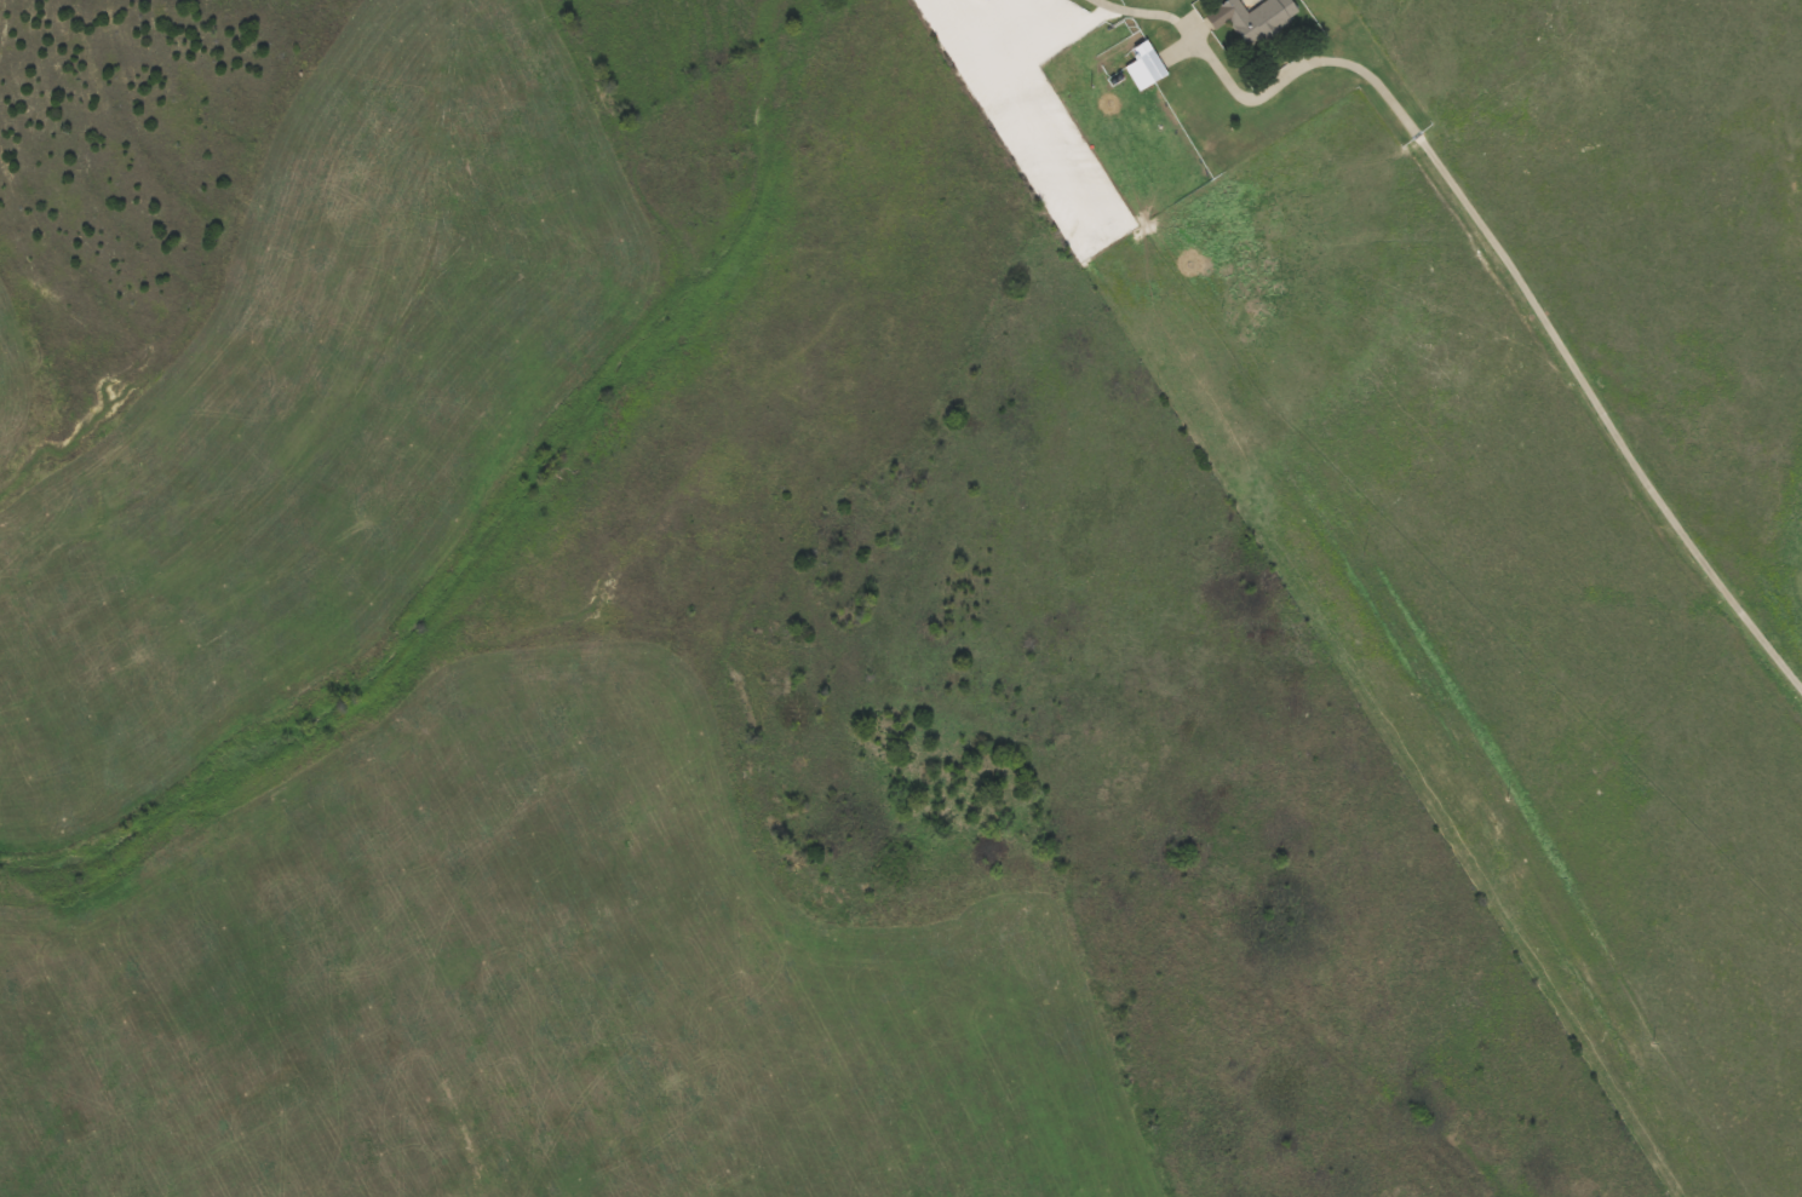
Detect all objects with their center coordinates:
building: (1261, 21)
building: (1146, 67)
road: (1522, 303)

